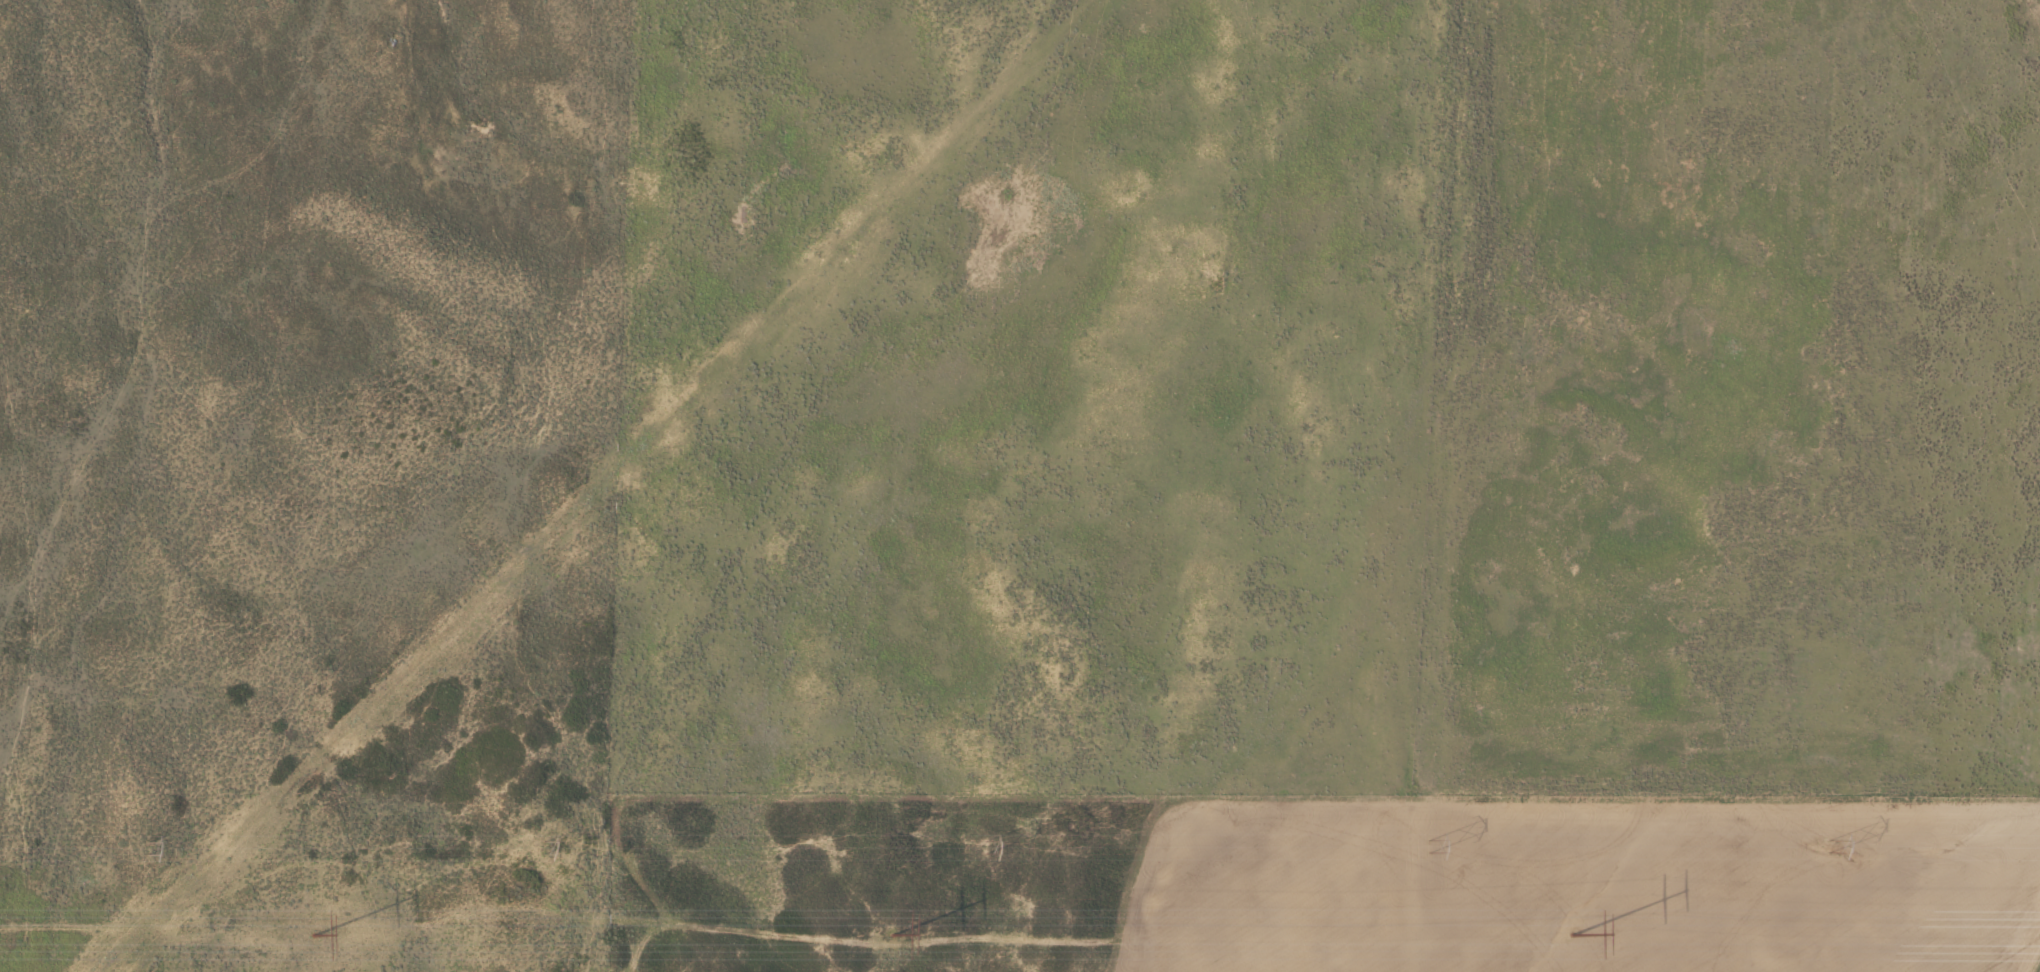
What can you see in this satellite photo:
power tower: (537, 845)
power tower: (1825, 845)
power tower: (980, 846)
power tower: (1427, 846)
power tower: (142, 848)
power tower: (314, 933)
power tower: (892, 933)
power tower: (1570, 934)

